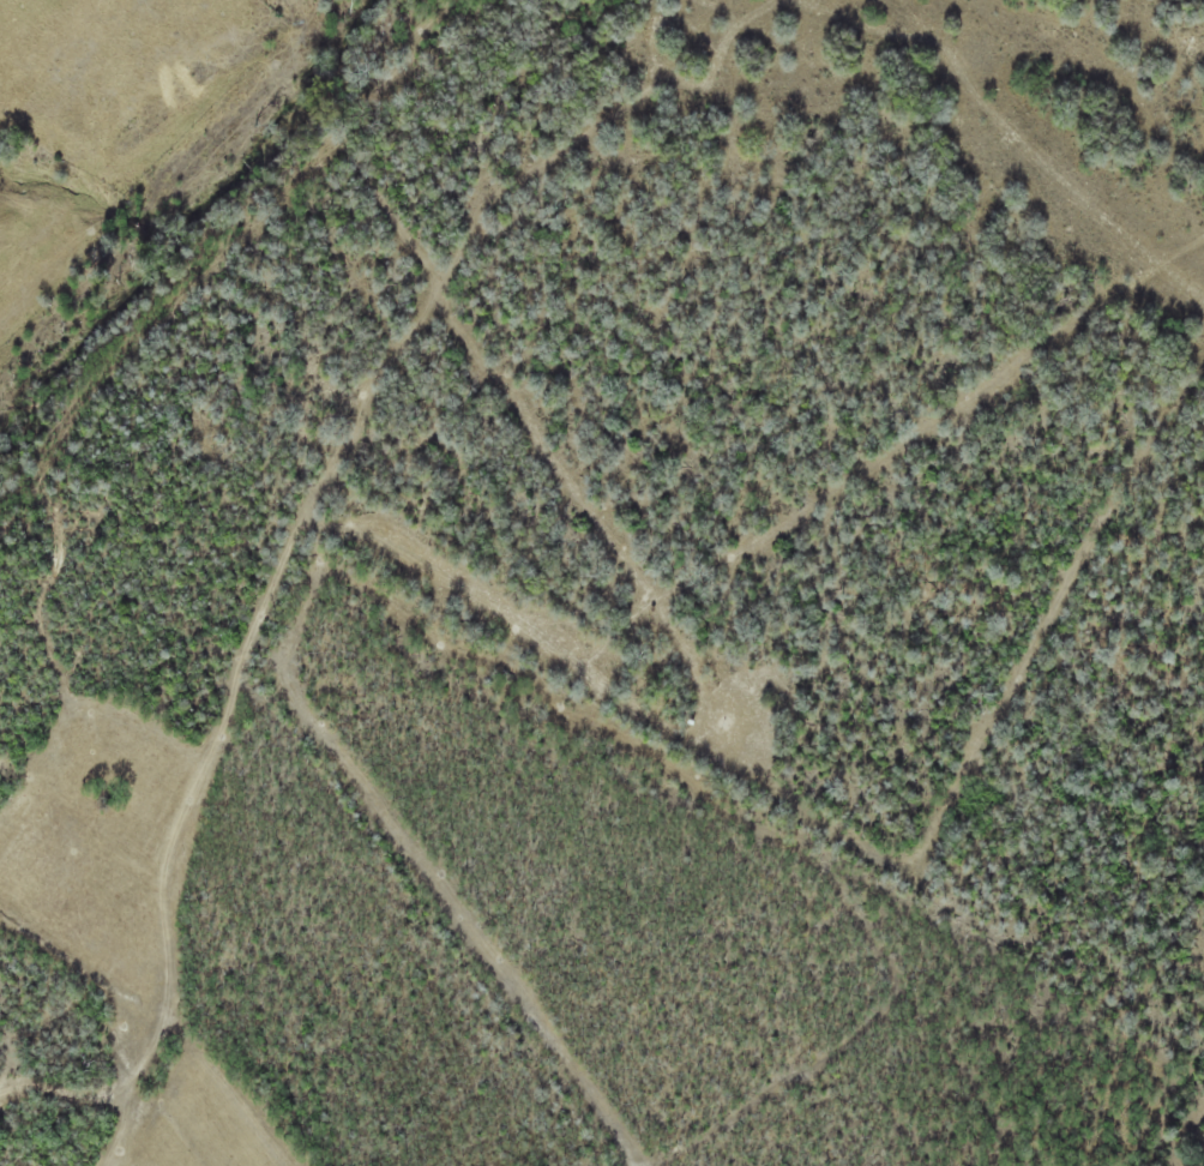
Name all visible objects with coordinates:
road: (185, 1080)

